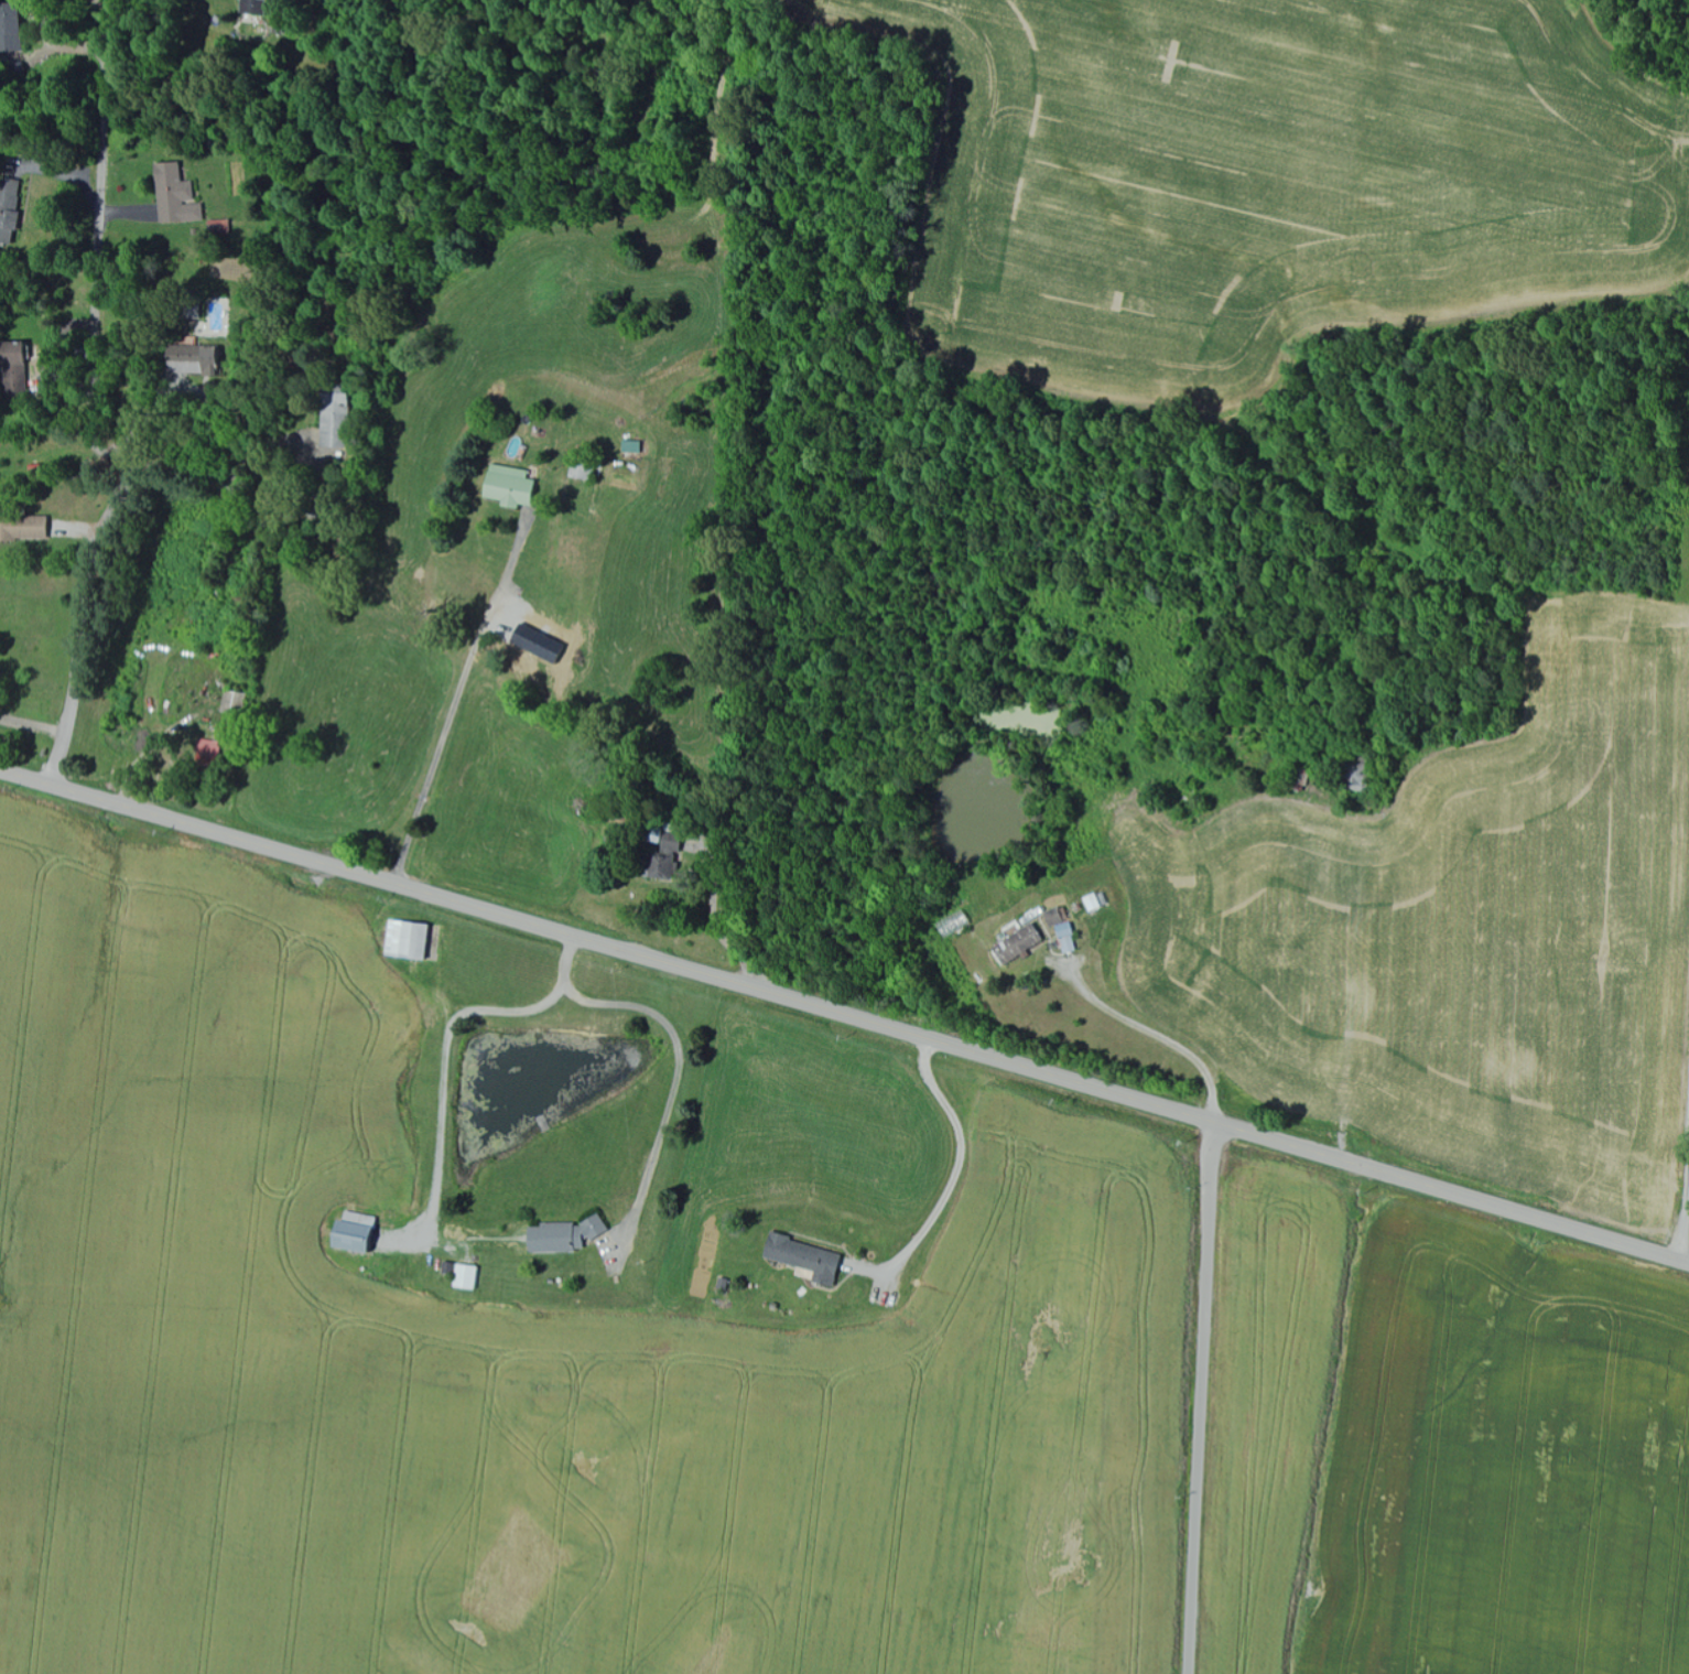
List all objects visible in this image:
building: (182, 195)
building: (13, 206)
building: (187, 306)
building: (185, 359)
road: (93, 406)
building: (324, 419)
road: (249, 425)
building: (509, 486)
building: (22, 527)
building: (670, 843)
building: (659, 867)
building: (1057, 916)
building: (1065, 938)
building: (403, 940)
building: (1017, 943)
road: (1676, 953)
road: (832, 1012)
building: (351, 1234)
building: (561, 1235)
building: (803, 1259)
road: (1676, 1260)
building: (464, 1277)
road: (1200, 1398)

